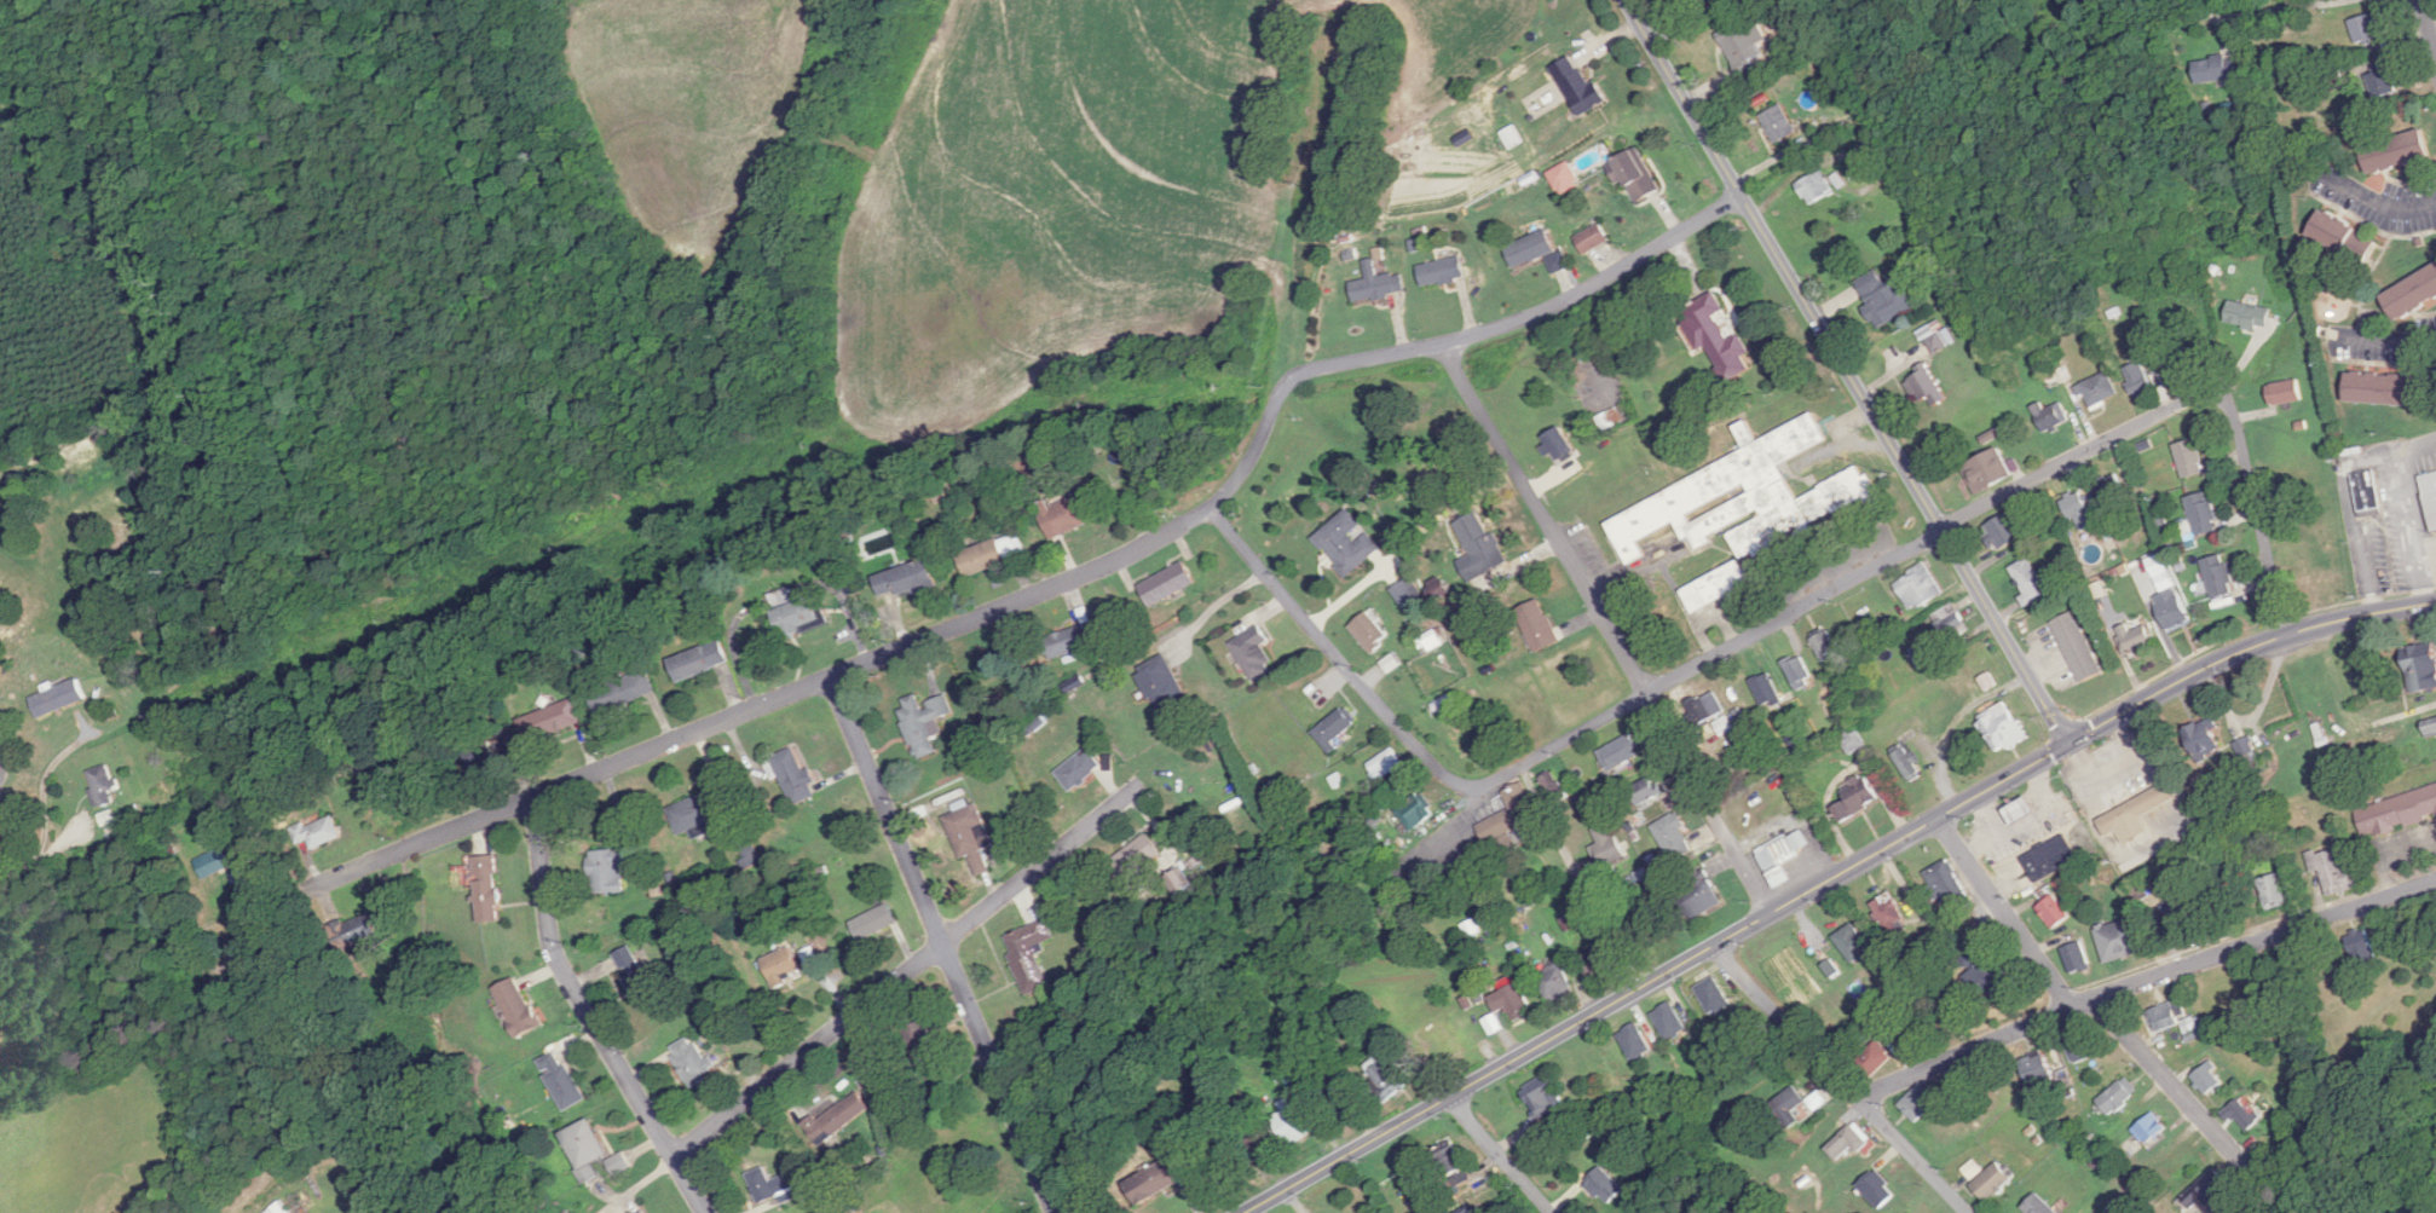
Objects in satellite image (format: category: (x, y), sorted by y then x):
road: (2265, 10)
road: (2428, 25)
building: (2366, 28)
building: (1743, 44)
building: (2216, 68)
building: (2383, 82)
building: (1580, 86)
building: (1779, 122)
building: (2399, 150)
building: (1638, 174)
building: (1565, 178)
road: (1373, 187)
building: (1816, 187)
building: (2344, 236)
building: (1593, 238)
building: (1531, 248)
building: (1442, 271)
building: (1376, 284)
building: (2413, 294)
building: (1891, 305)
building: (2250, 314)
building: (1718, 336)
road: (2385, 337)
building: (1930, 342)
road: (1848, 370)
building: (2138, 379)
building: (1926, 386)
building: (2386, 388)
building: (2099, 389)
building: (2285, 392)
building: (2050, 415)
building: (1610, 420)
building: (1559, 444)
building: (2189, 458)
building: (1987, 470)
building: (2109, 489)
building: (2368, 492)
building: (2430, 495)
building: (1745, 497)
building: (2079, 510)
building: (1070, 513)
building: (2204, 513)
building: (2003, 531)
building: (1347, 543)
building: (1478, 547)
building: (2308, 553)
building: (989, 555)
building: (2219, 576)
building: (905, 579)
road: (1058, 582)
building: (1167, 583)
building: (1716, 585)
building: (1920, 587)
building: (1404, 594)
building: (780, 595)
road: (1214, 605)
building: (2174, 611)
road: (1786, 614)
building: (798, 616)
building: (1539, 624)
building: (1947, 625)
road: (1610, 626)
building: (1369, 630)
building: (2136, 637)
building: (1433, 640)
building: (1067, 641)
building: (1825, 646)
building: (2077, 646)
building: (1253, 648)
building: (109, 651)
building: (1920, 657)
building: (699, 660)
building: (2423, 665)
building: (1799, 672)
building: (1161, 682)
building: (1766, 689)
building: (622, 691)
building: (58, 697)
building: (1707, 707)
building: (550, 720)
building: (924, 722)
building: (1725, 724)
building: (1337, 726)
building: (2430, 726)
building: (2003, 727)
building: (1462, 738)
building: (2205, 739)
building: (1620, 752)
building: (2249, 753)
building: (485, 756)
building: (1907, 762)
building: (1386, 763)
building: (1079, 768)
building: (795, 775)
road: (45, 776)
building: (102, 785)
building: (1554, 787)
building: (1646, 790)
building: (1855, 798)
building: (2018, 805)
building: (1416, 810)
building: (2135, 811)
building: (2397, 811)
building: (693, 813)
building: (1511, 818)
building: (319, 831)
building: (970, 836)
building: (1674, 837)
building: (1607, 847)
building: (750, 848)
road: (1624, 851)
road: (2389, 854)
building: (1135, 857)
building: (2053, 859)
road: (22, 861)
building: (214, 862)
building: (1776, 866)
building: (611, 868)
building: (2332, 870)
road: (1828, 879)
building: (1946, 884)
building: (487, 889)
building: (2274, 891)
building: (1701, 899)
road: (2004, 912)
building: (2054, 912)
building: (1891, 913)
building: (874, 922)
building: (2178, 922)
building: (352, 931)
building: (2122, 940)
road: (943, 943)
building: (1853, 943)
building: (2362, 947)
building: (1031, 954)
building: (2077, 958)
building: (1598, 961)
building: (783, 966)
road: (907, 969)
building: (636, 977)
building: (1986, 977)
road: (2143, 980)
building: (1554, 982)
building: (1713, 995)
building: (1513, 1001)
building: (518, 1007)
road: (590, 1015)
building: (2169, 1015)
building: (1669, 1021)
building: (1635, 1041)
building: (1436, 1045)
building: (2084, 1049)
building: (925, 1050)
building: (691, 1059)
building: (1875, 1059)
building: (2038, 1069)
building: (2210, 1078)
road: (1841, 1079)
building: (561, 1080)
building: (1389, 1080)
building: (1328, 1084)
building: (2118, 1096)
building: (1921, 1102)
building: (1543, 1103)
building: (1789, 1105)
road: (2192, 1105)
building: (2240, 1114)
building: (837, 1119)
building: (1293, 1121)
building: (902, 1124)
building: (2151, 1128)
building: (1848, 1143)
building: (585, 1148)
building: (1260, 1148)
road: (1500, 1155)
building: (1451, 1162)
building: (619, 1163)
building: (1158, 1179)
building: (1993, 1180)
building: (772, 1185)
building: (1604, 1186)
building: (1878, 1189)
building: (2209, 1192)
building: (2037, 1206)
building: (278, 1208)
building: (648, 1211)

